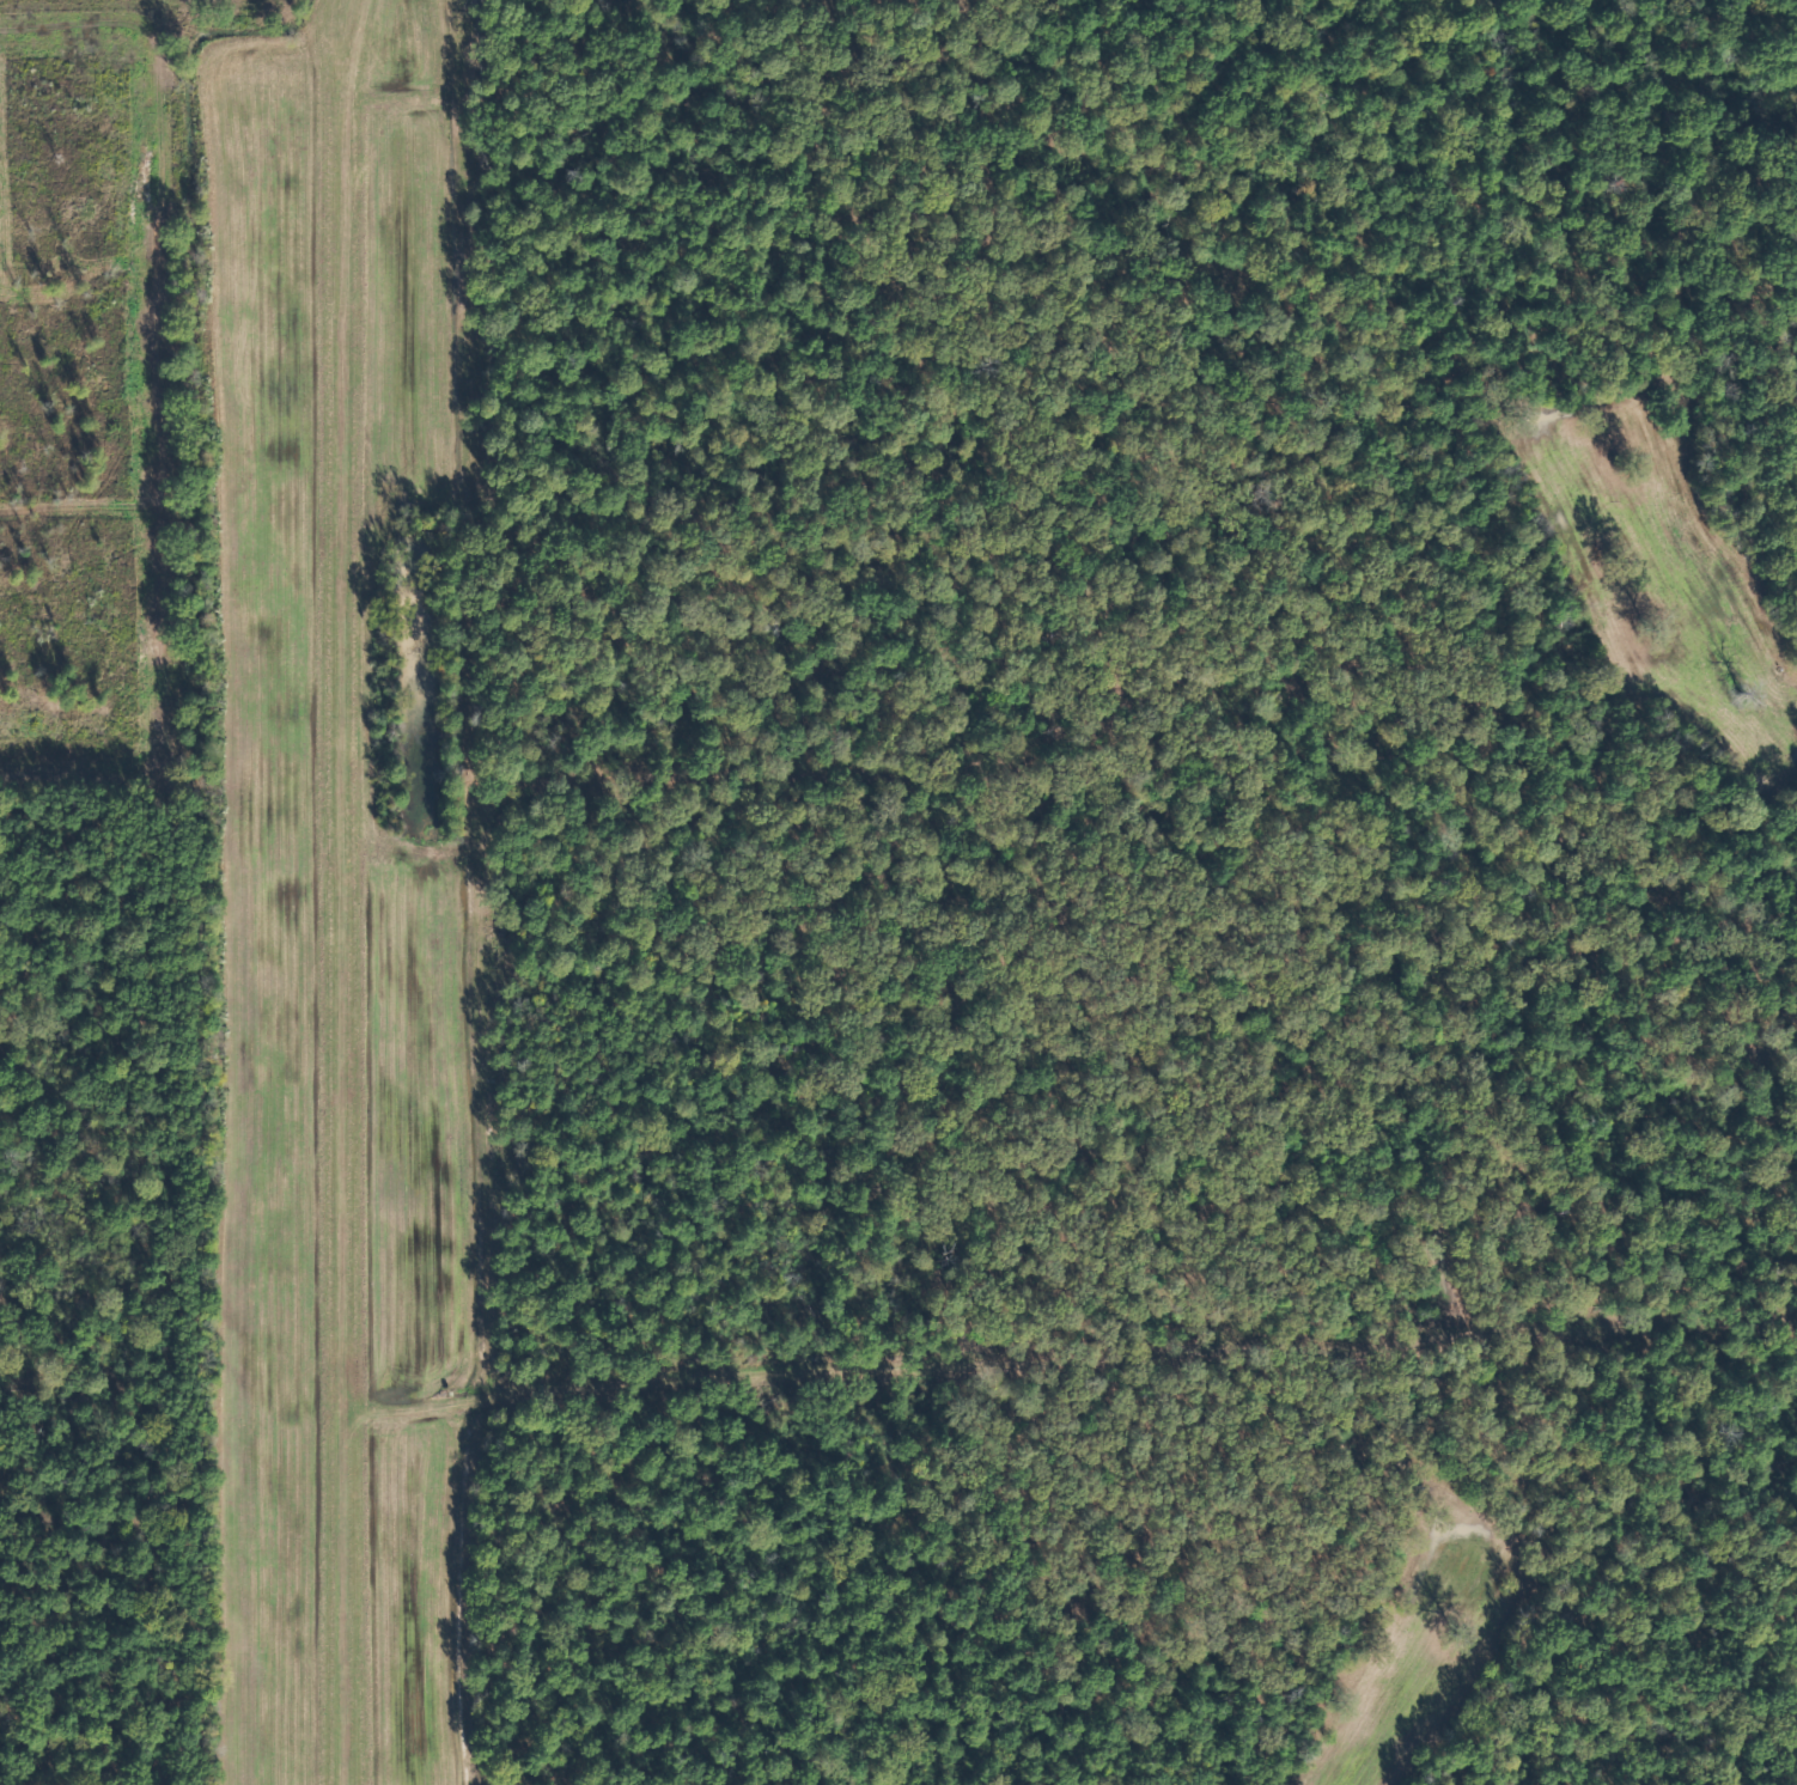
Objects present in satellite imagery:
road: (1408, 1424)

